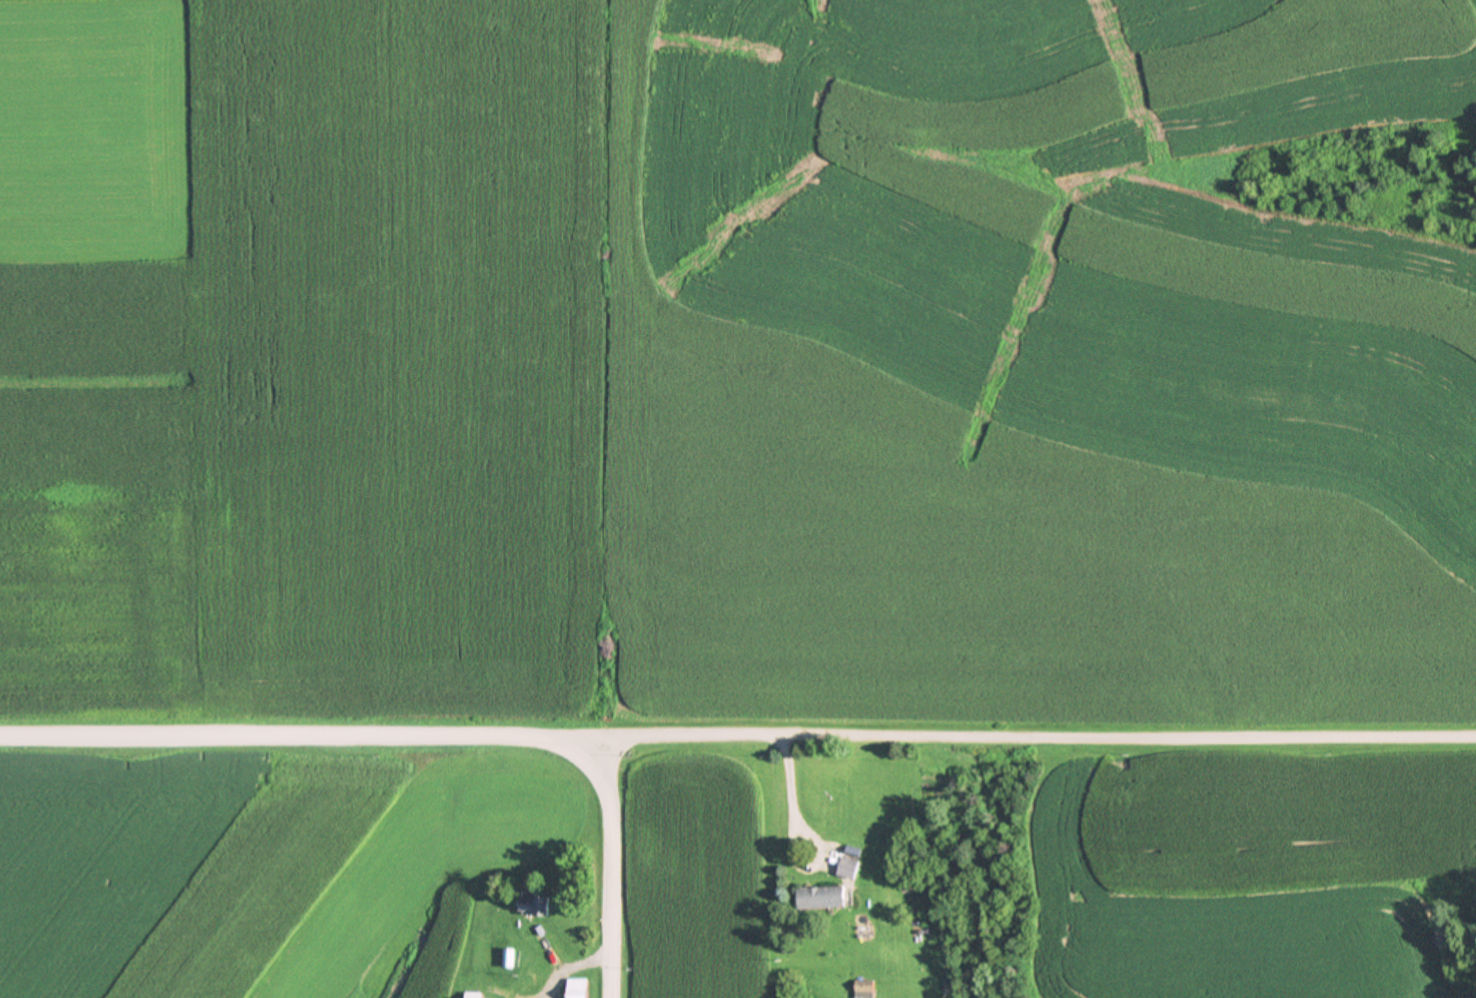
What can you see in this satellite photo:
road: (299, 738)
road: (1036, 738)
building: (849, 867)
road: (616, 869)
building: (822, 897)
building: (534, 904)
building: (866, 985)
building: (579, 987)
building: (472, 994)

